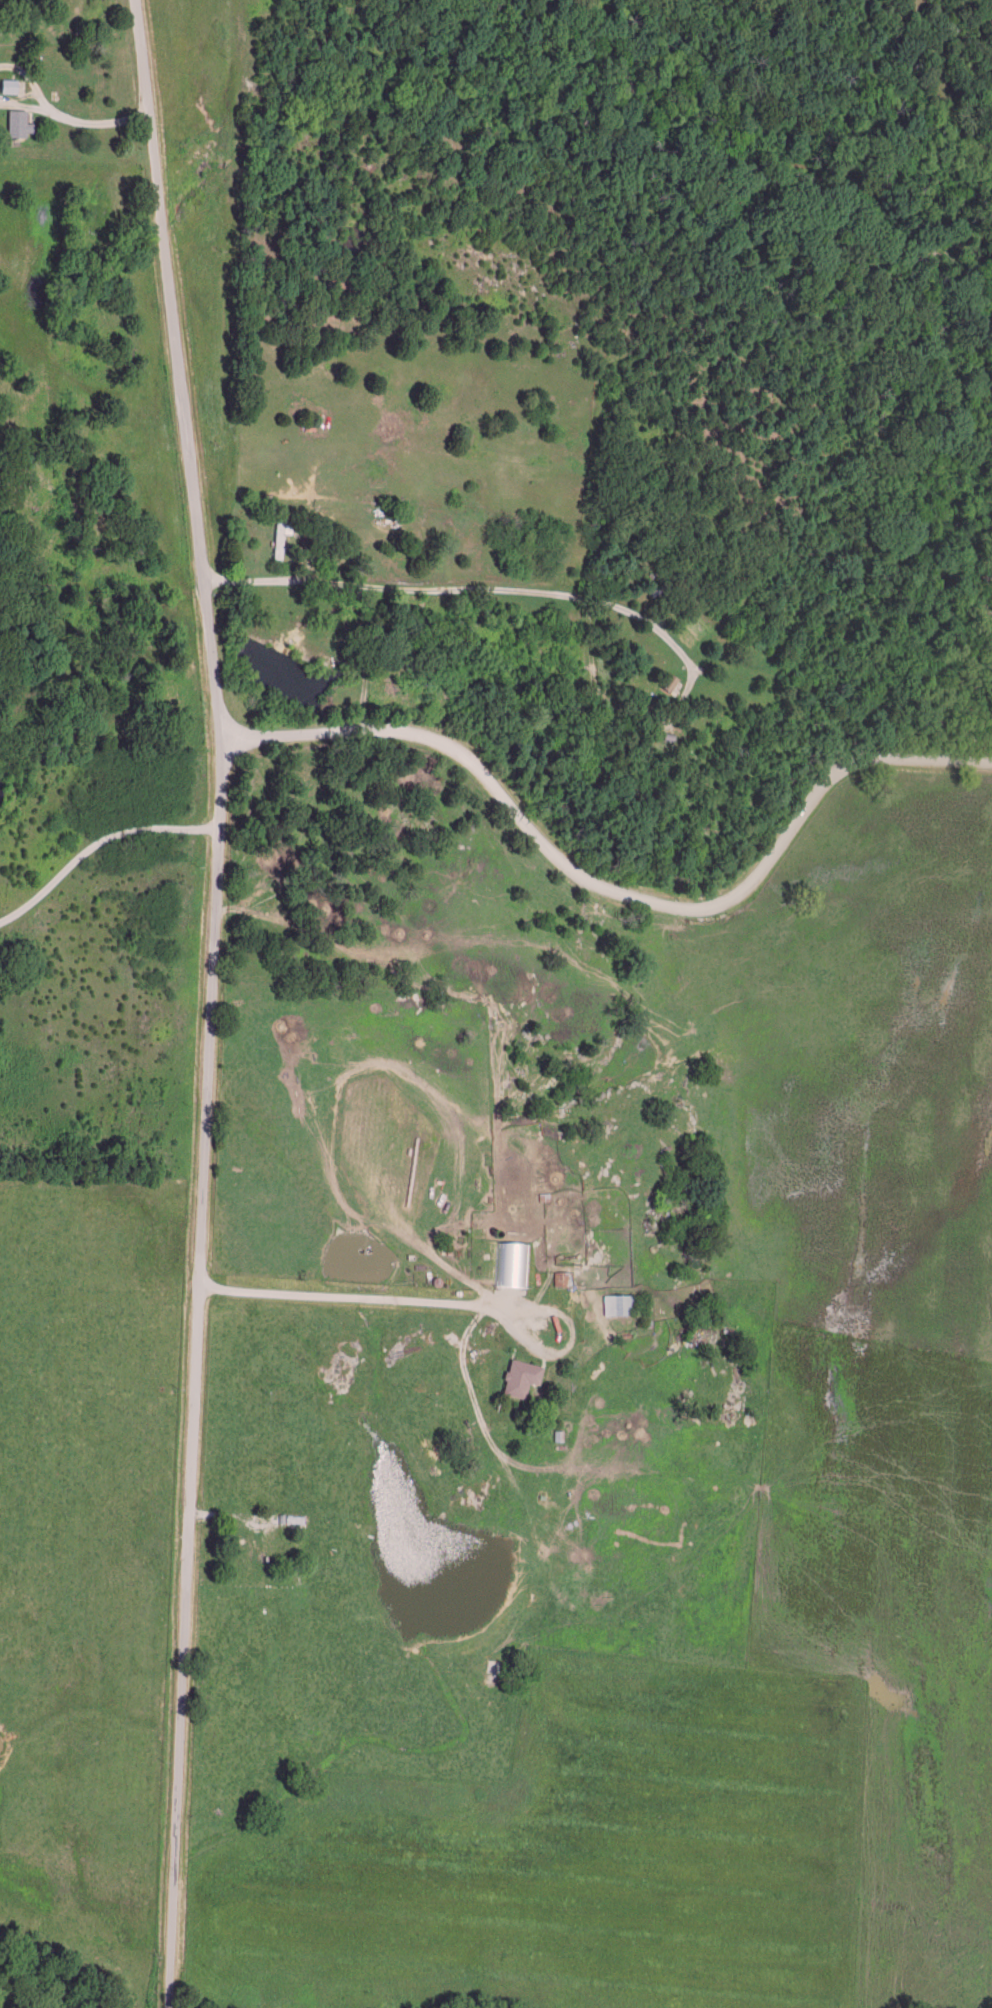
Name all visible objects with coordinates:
building: (10, 84)
building: (20, 121)
road: (75, 122)
road: (470, 586)
building: (669, 679)
road: (97, 846)
road: (609, 892)
road: (213, 1001)
building: (512, 1262)
building: (562, 1276)
road: (343, 1299)
building: (620, 1302)
road: (568, 1316)
building: (523, 1375)

